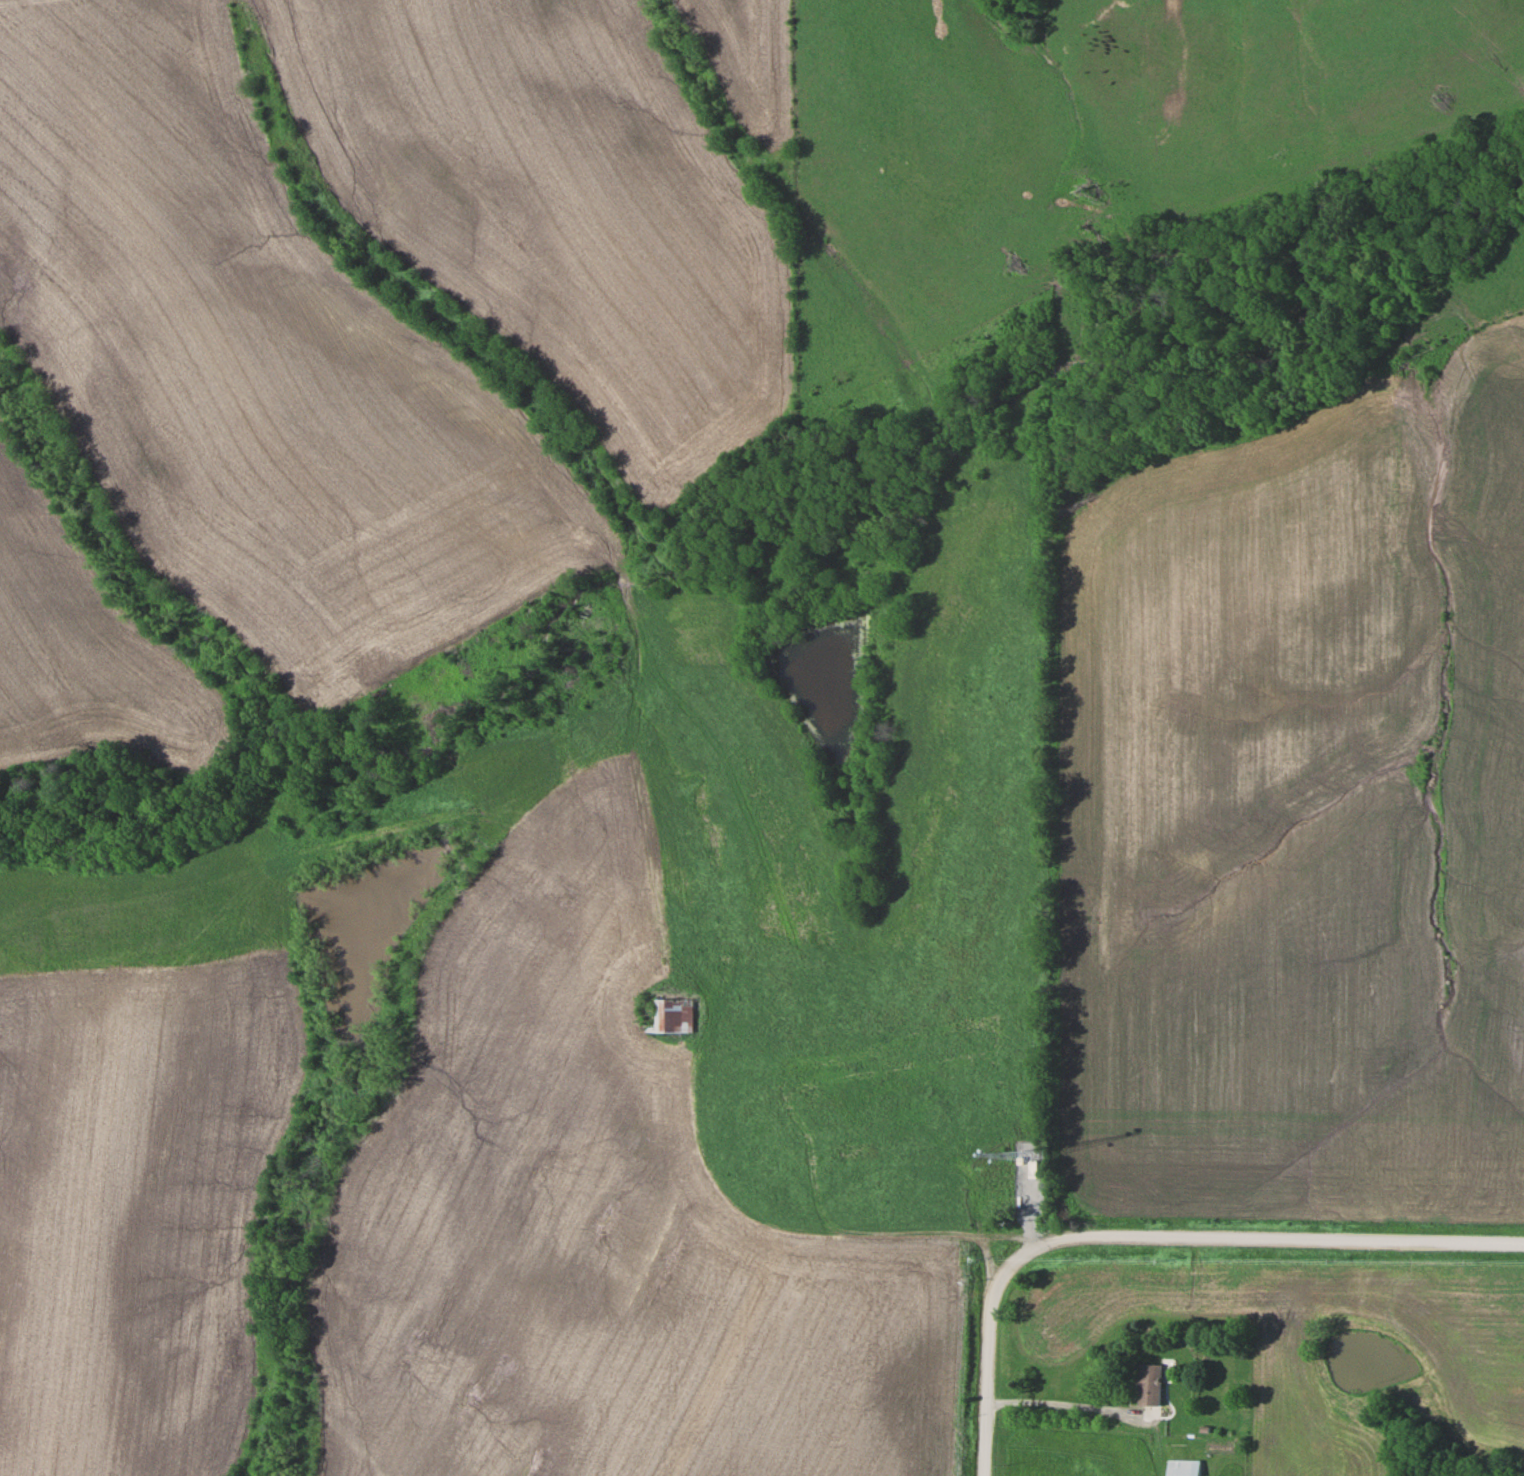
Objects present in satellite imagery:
crop: (749, 59)
crop: (555, 205)
crop: (252, 367)
crop: (83, 647)
crop: (1299, 813)
building: (671, 1016)
crop: (137, 1209)
road: (779, 1227)
crop: (590, 1236)
road: (1154, 1240)
building: (1149, 1384)
road: (1069, 1406)
building: (1183, 1467)

